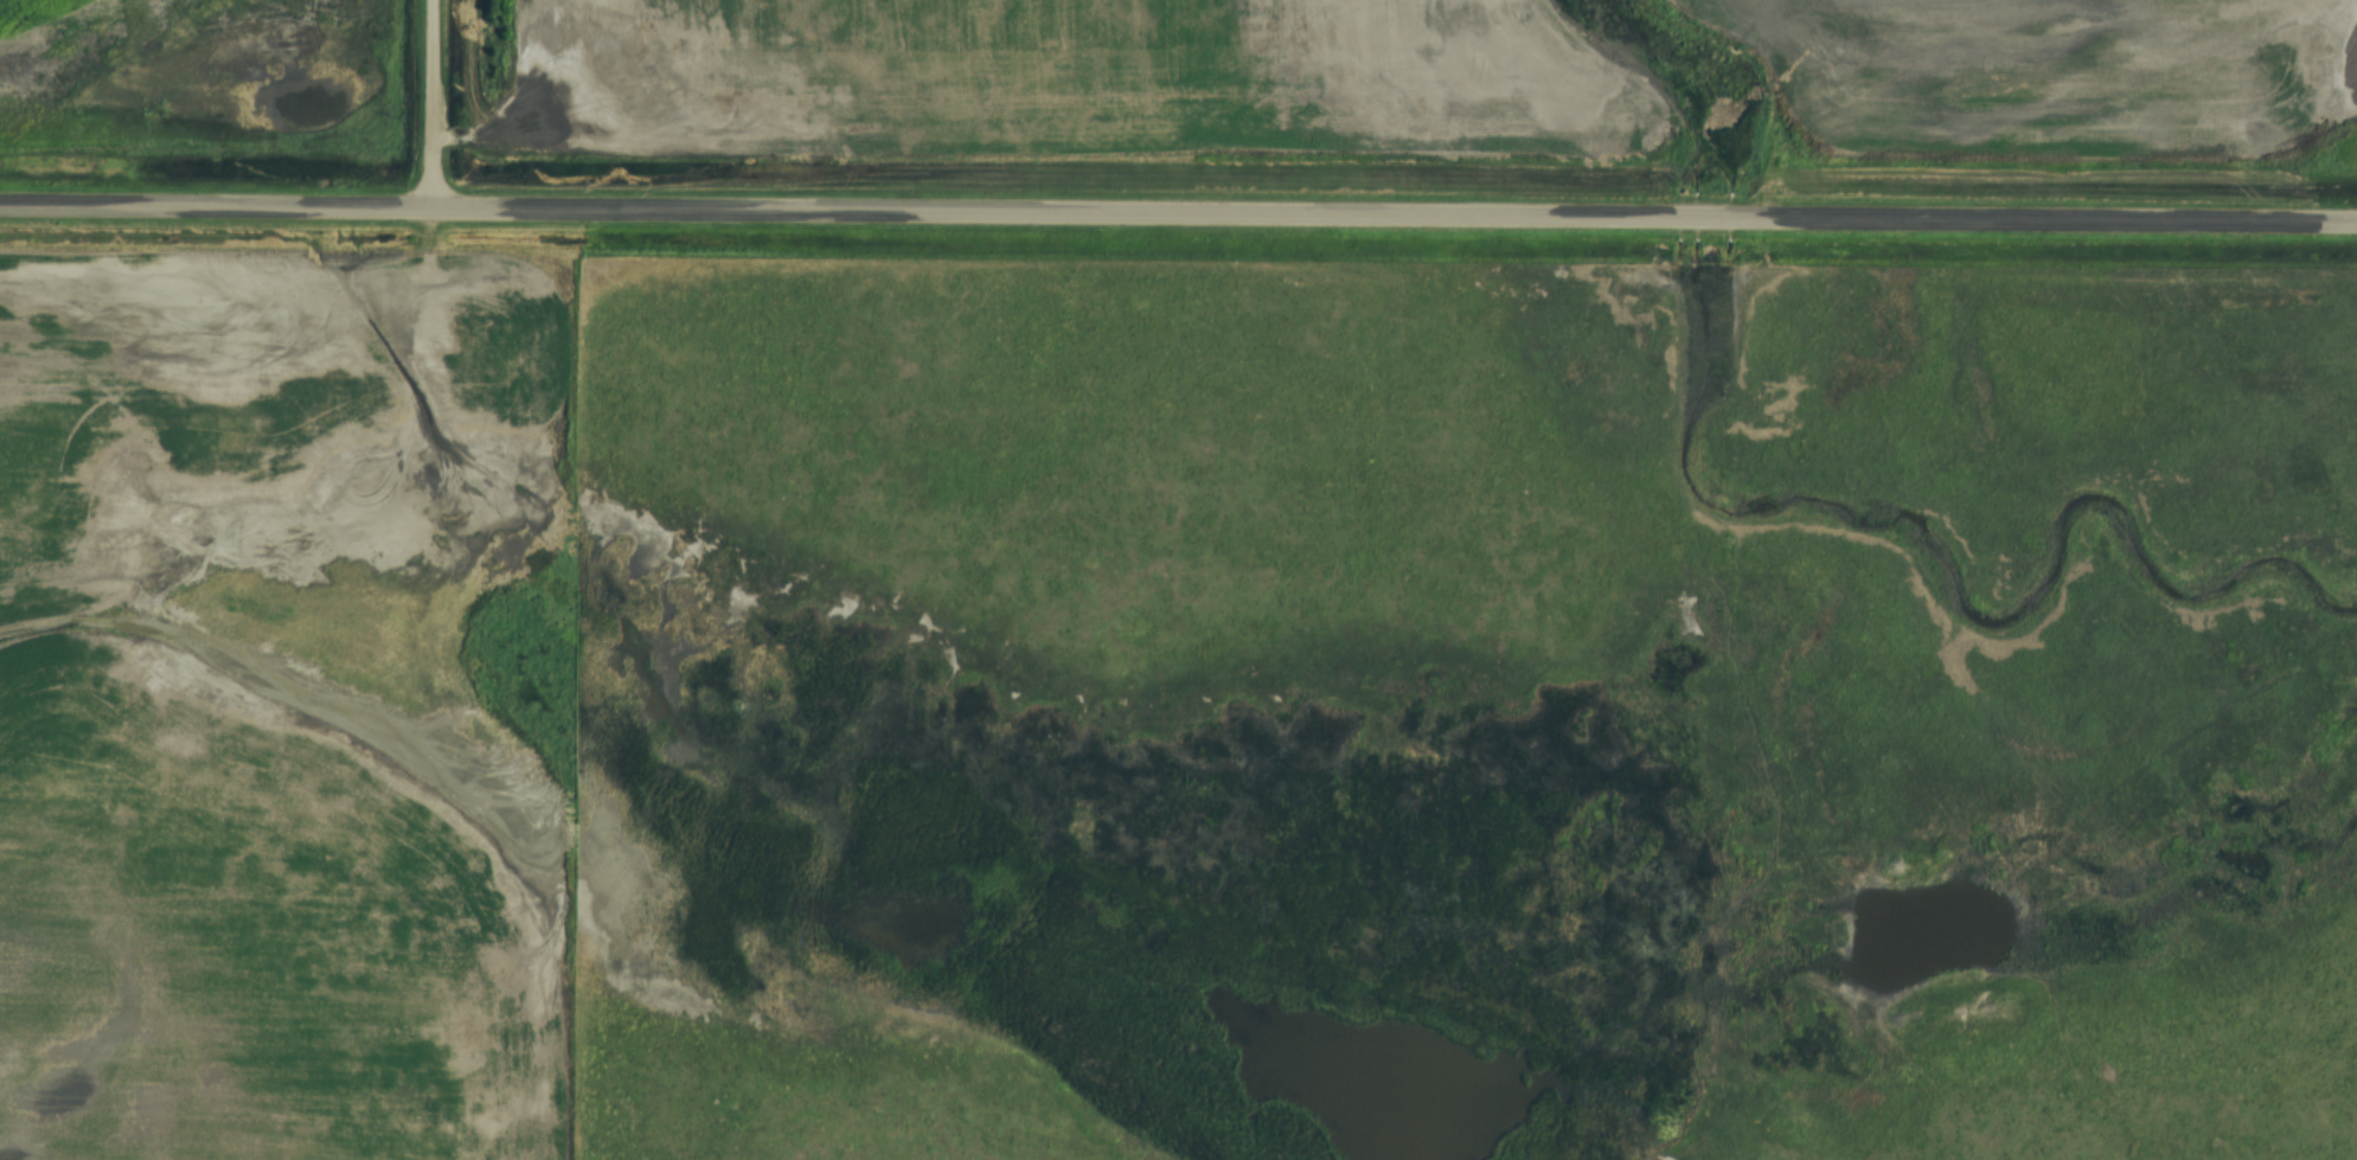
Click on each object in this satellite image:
road: (435, 103)
road: (1178, 209)

